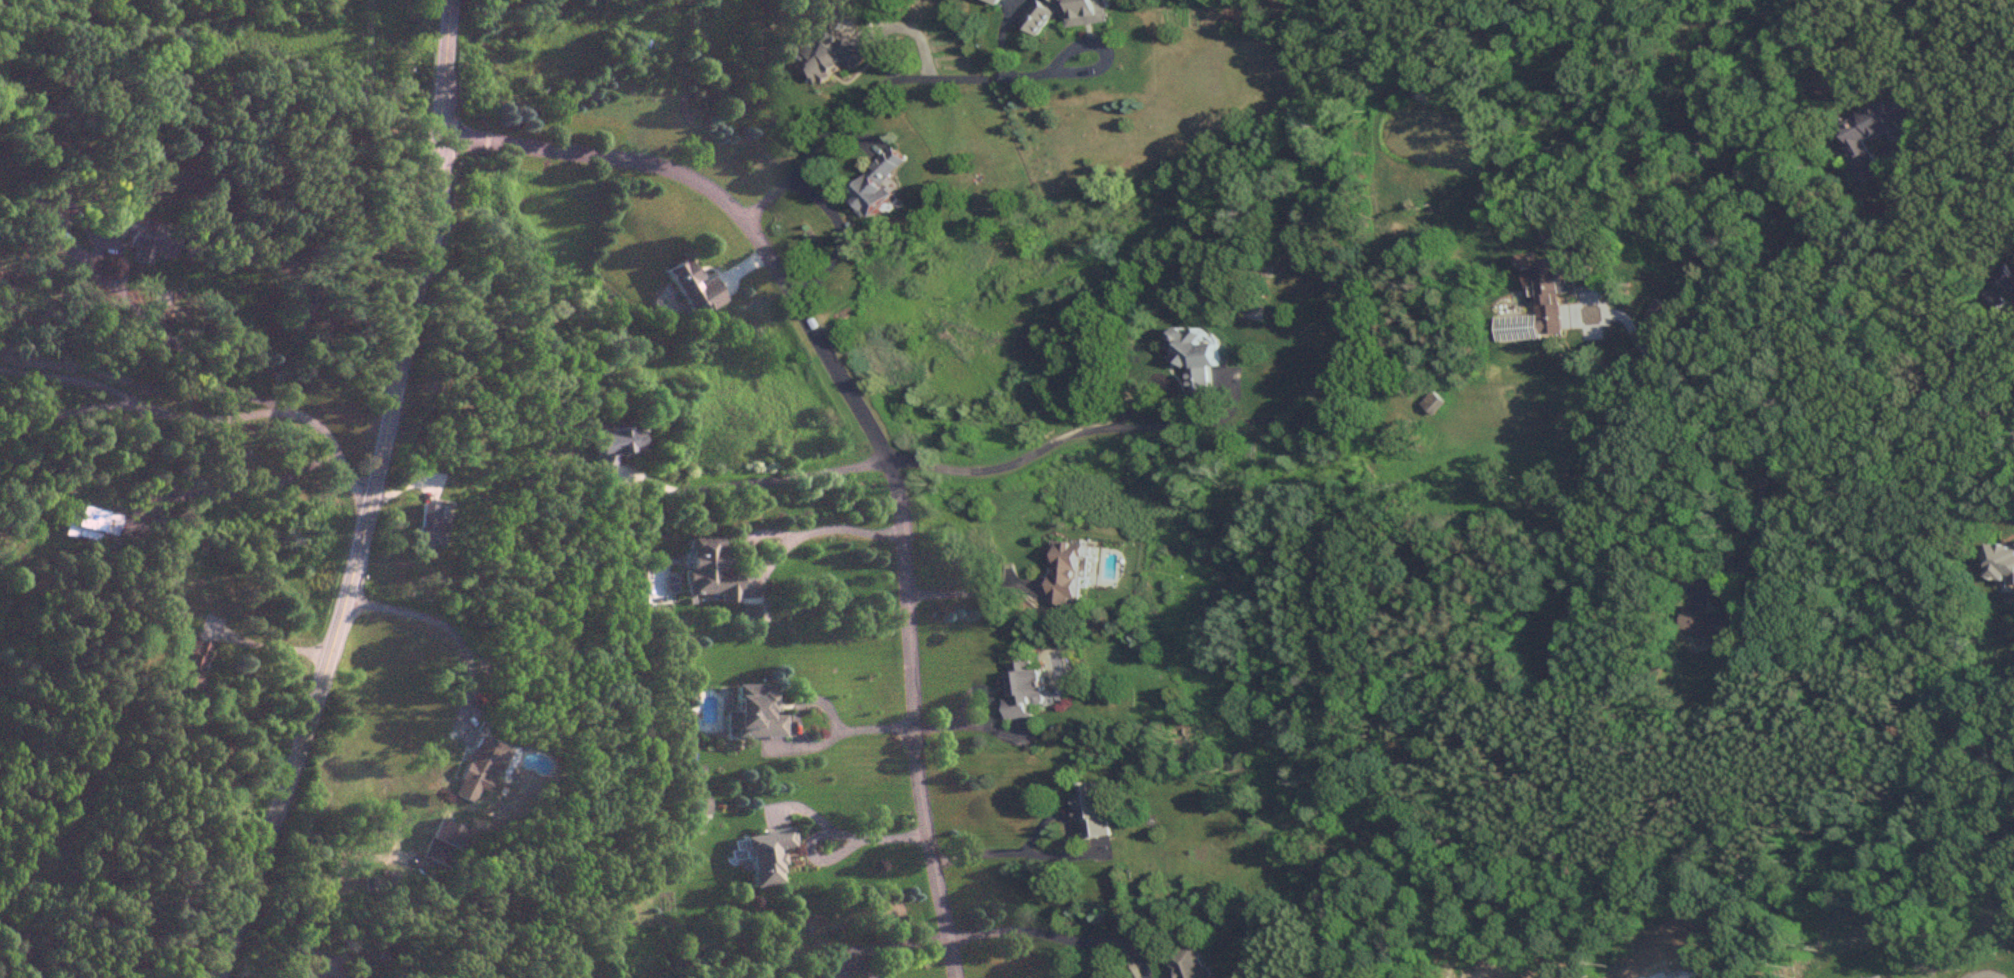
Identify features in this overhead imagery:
building: (996, 1)
building: (1067, 13)
building: (831, 58)
road: (944, 78)
building: (1872, 133)
building: (875, 184)
road: (430, 207)
building: (48, 223)
road: (835, 234)
building: (138, 236)
road: (78, 254)
building: (2009, 282)
road: (1911, 285)
building: (695, 288)
building: (1539, 307)
road: (2005, 324)
road: (183, 351)
building: (1196, 356)
road: (67, 380)
road: (1150, 383)
road: (1979, 397)
building: (1433, 402)
road: (207, 417)
road: (868, 424)
road: (1074, 432)
building: (612, 450)
road: (1737, 452)
road: (747, 485)
road: (240, 487)
building: (92, 525)
building: (429, 525)
road: (1753, 535)
road: (781, 536)
building: (2004, 566)
building: (709, 570)
building: (1067, 573)
road: (977, 592)
building: (1714, 625)
road: (452, 635)
road: (264, 645)
building: (193, 664)
road: (978, 688)
building: (1025, 689)
road: (316, 697)
road: (802, 700)
building: (753, 714)
road: (978, 725)
road: (834, 735)
building: (485, 760)
building: (1095, 824)
road: (835, 832)
building: (445, 843)
building: (765, 855)
road: (1048, 855)
road: (296, 924)
road: (1056, 937)
road: (884, 945)
building: (1189, 964)
road: (861, 967)
road: (1979, 972)

